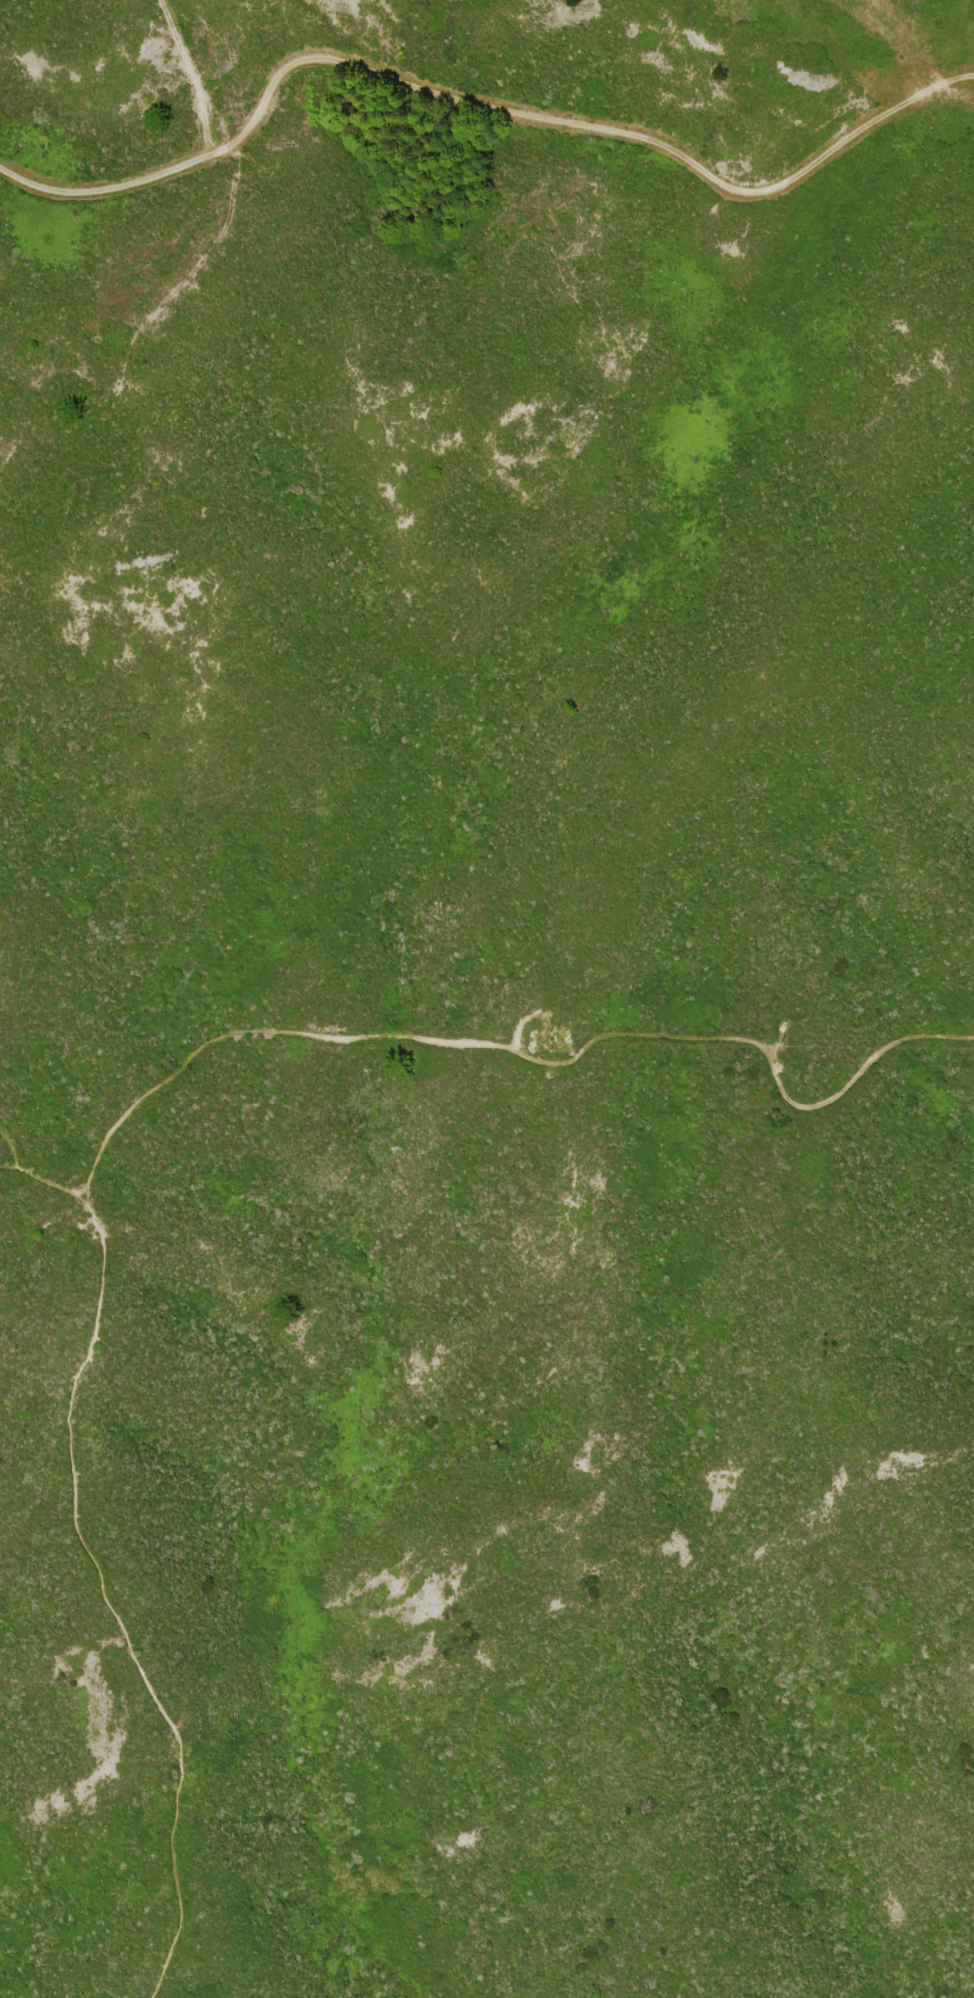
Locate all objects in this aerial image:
road: (430, 88)
road: (926, 90)
road: (138, 326)
road: (579, 1044)
road: (9, 1165)
road: (35, 1172)
park: (486, 1518)
road: (83, 1538)

